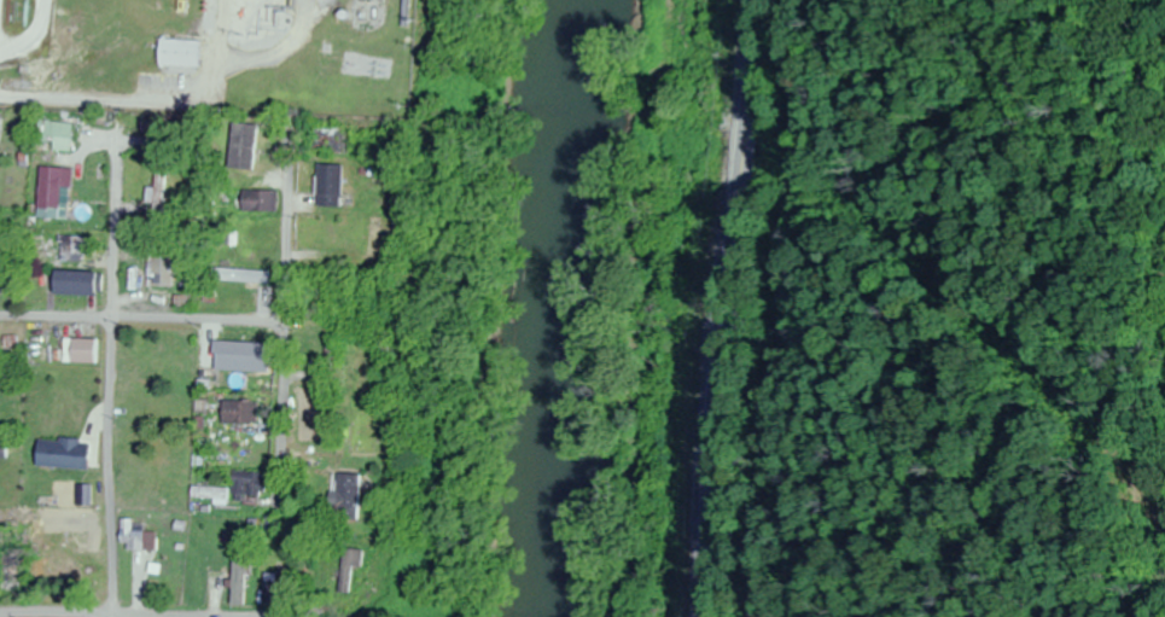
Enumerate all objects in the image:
building: (175, 53)
road: (153, 104)
building: (51, 134)
building: (326, 141)
building: (241, 147)
building: (328, 186)
building: (159, 187)
building: (48, 193)
building: (258, 202)
building: (372, 244)
building: (68, 251)
building: (158, 267)
building: (239, 277)
building: (69, 283)
road: (729, 307)
river: (541, 308)
road: (291, 321)
road: (193, 322)
building: (77, 351)
road: (107, 360)
building: (331, 361)
building: (239, 413)
building: (0, 450)
building: (58, 454)
building: (174, 478)
building: (246, 483)
building: (196, 493)
building: (80, 496)
building: (344, 499)
building: (129, 535)
building: (350, 571)
road: (88, 613)

